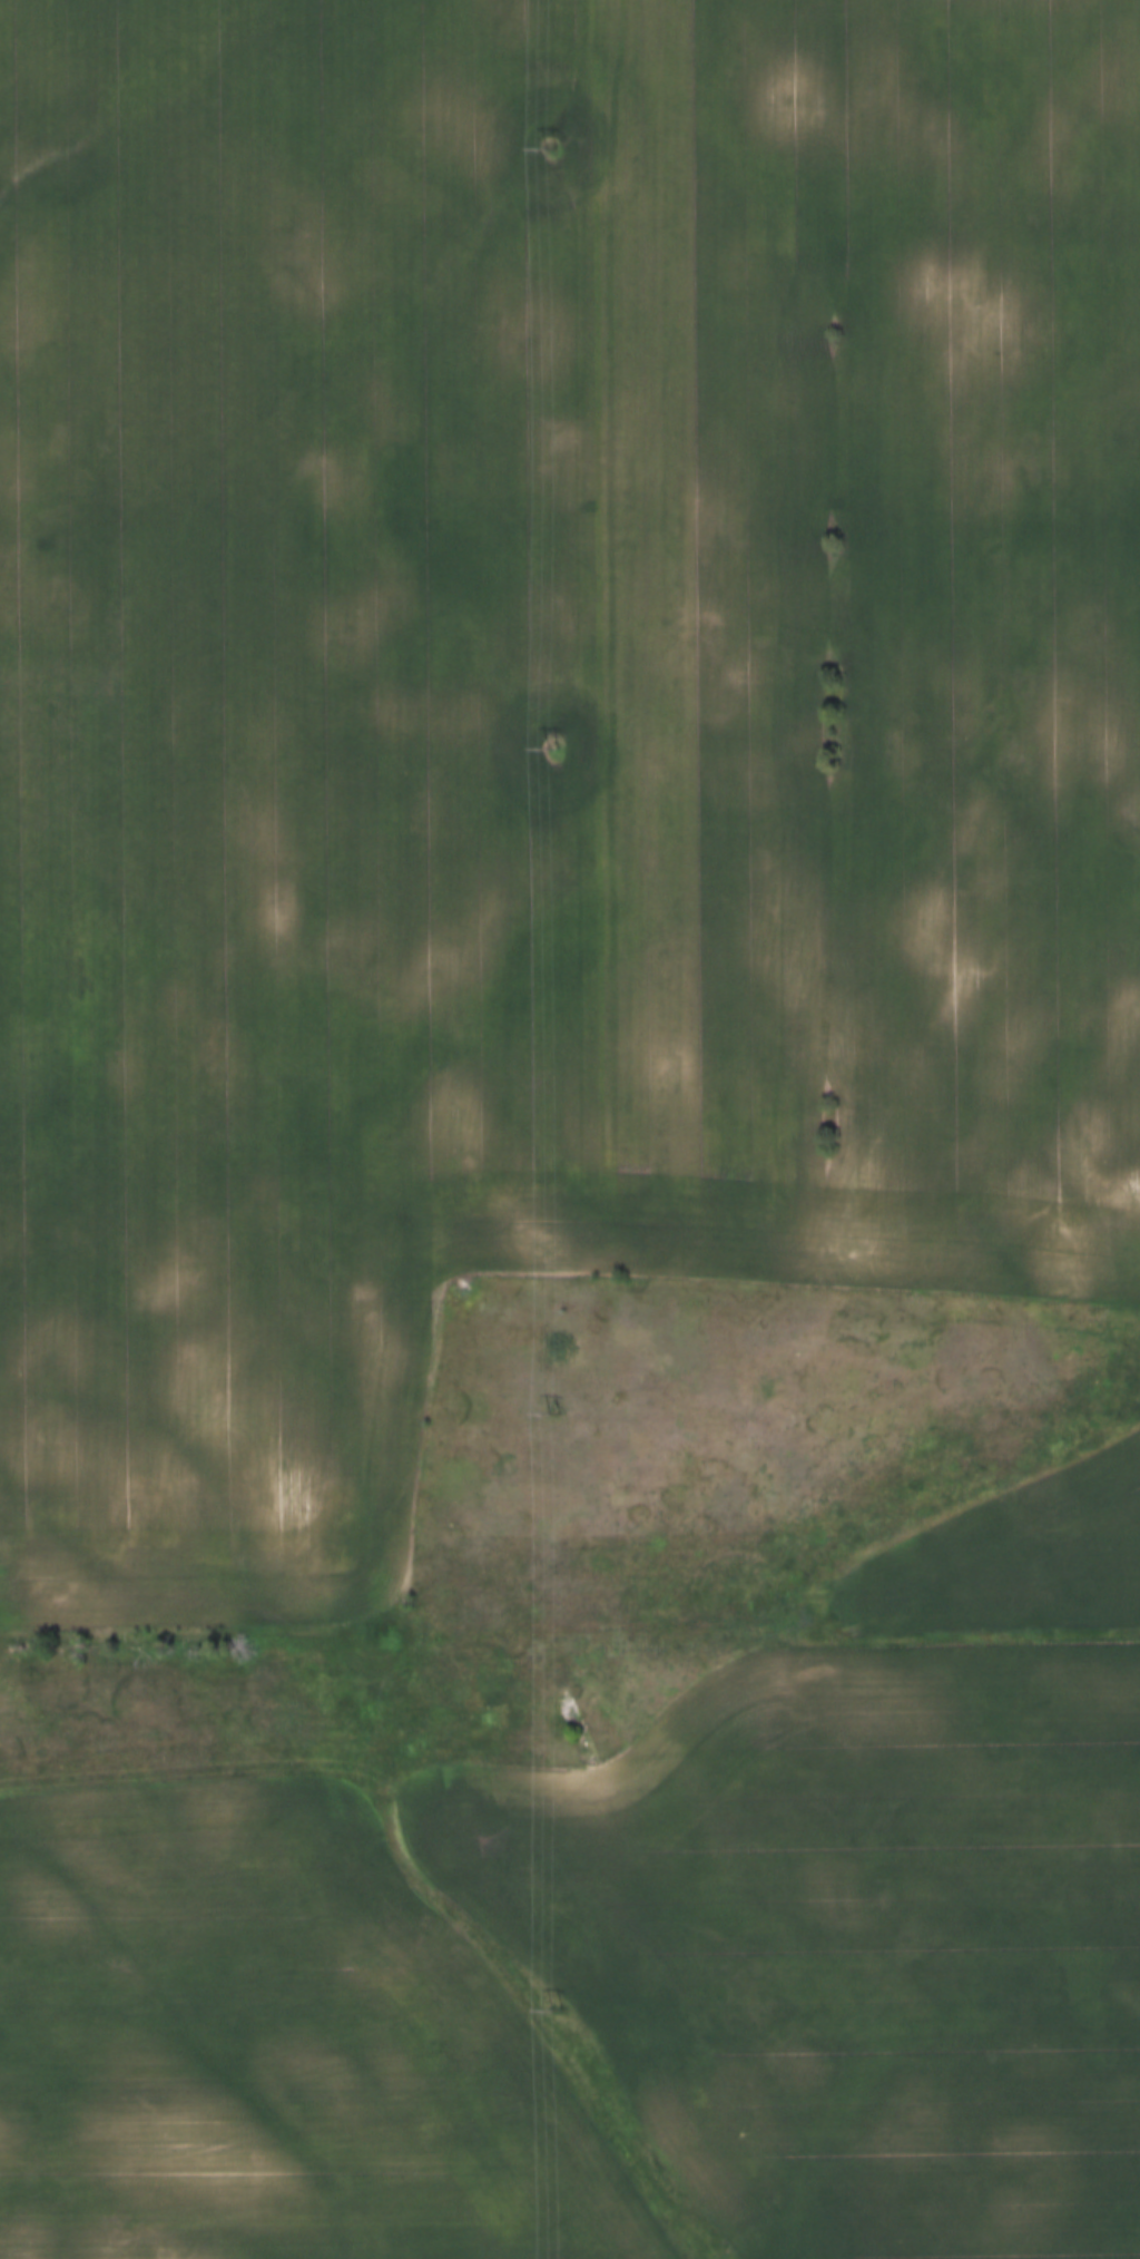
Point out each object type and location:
power tower: (550, 150)
power tower: (553, 750)
power tower: (553, 1412)
power tower: (553, 2009)

